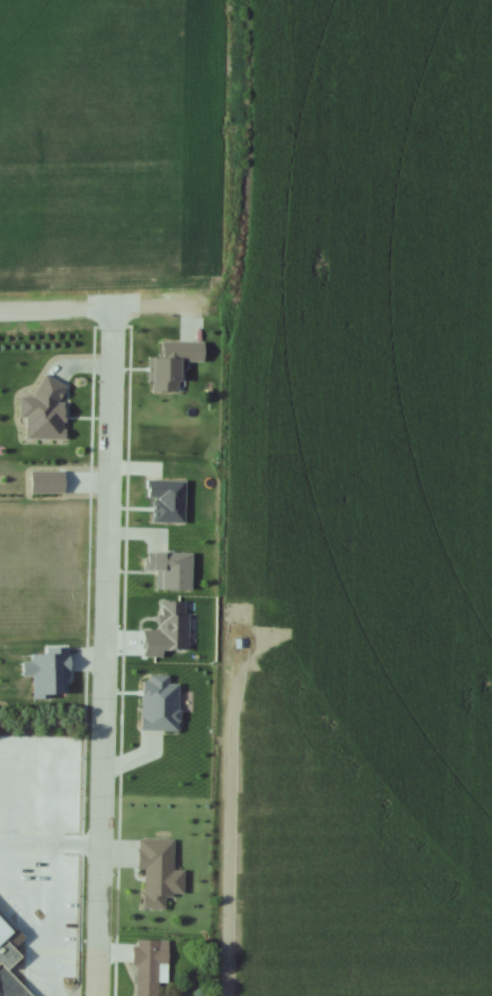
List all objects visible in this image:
crop: (107, 137)
road: (104, 648)
building: (150, 966)
building: (1, 994)

